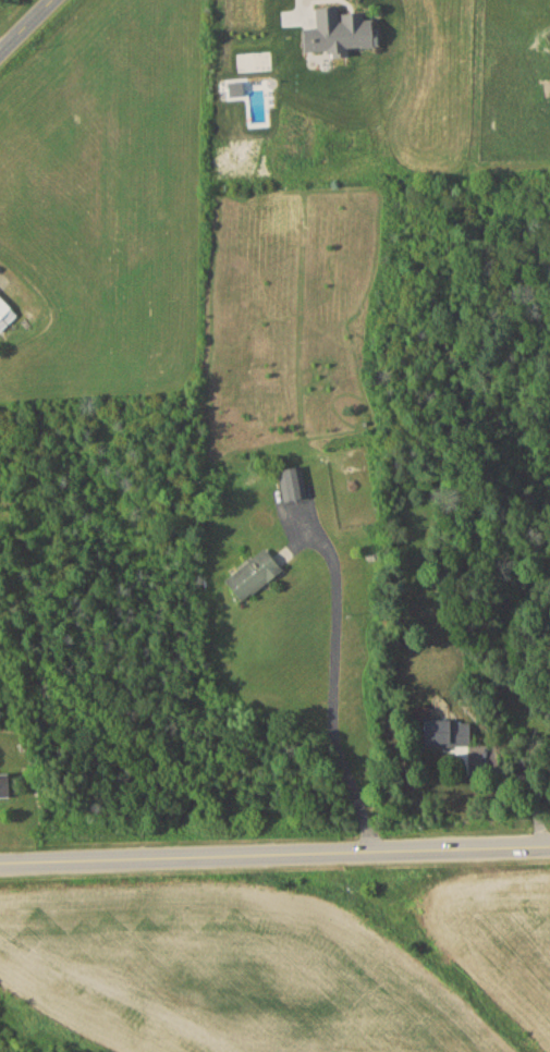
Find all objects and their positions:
road: (25, 25)
building: (7, 313)
building: (294, 484)
building: (256, 574)
road: (335, 681)
building: (442, 733)
building: (5, 787)
road: (526, 792)
road: (274, 854)

